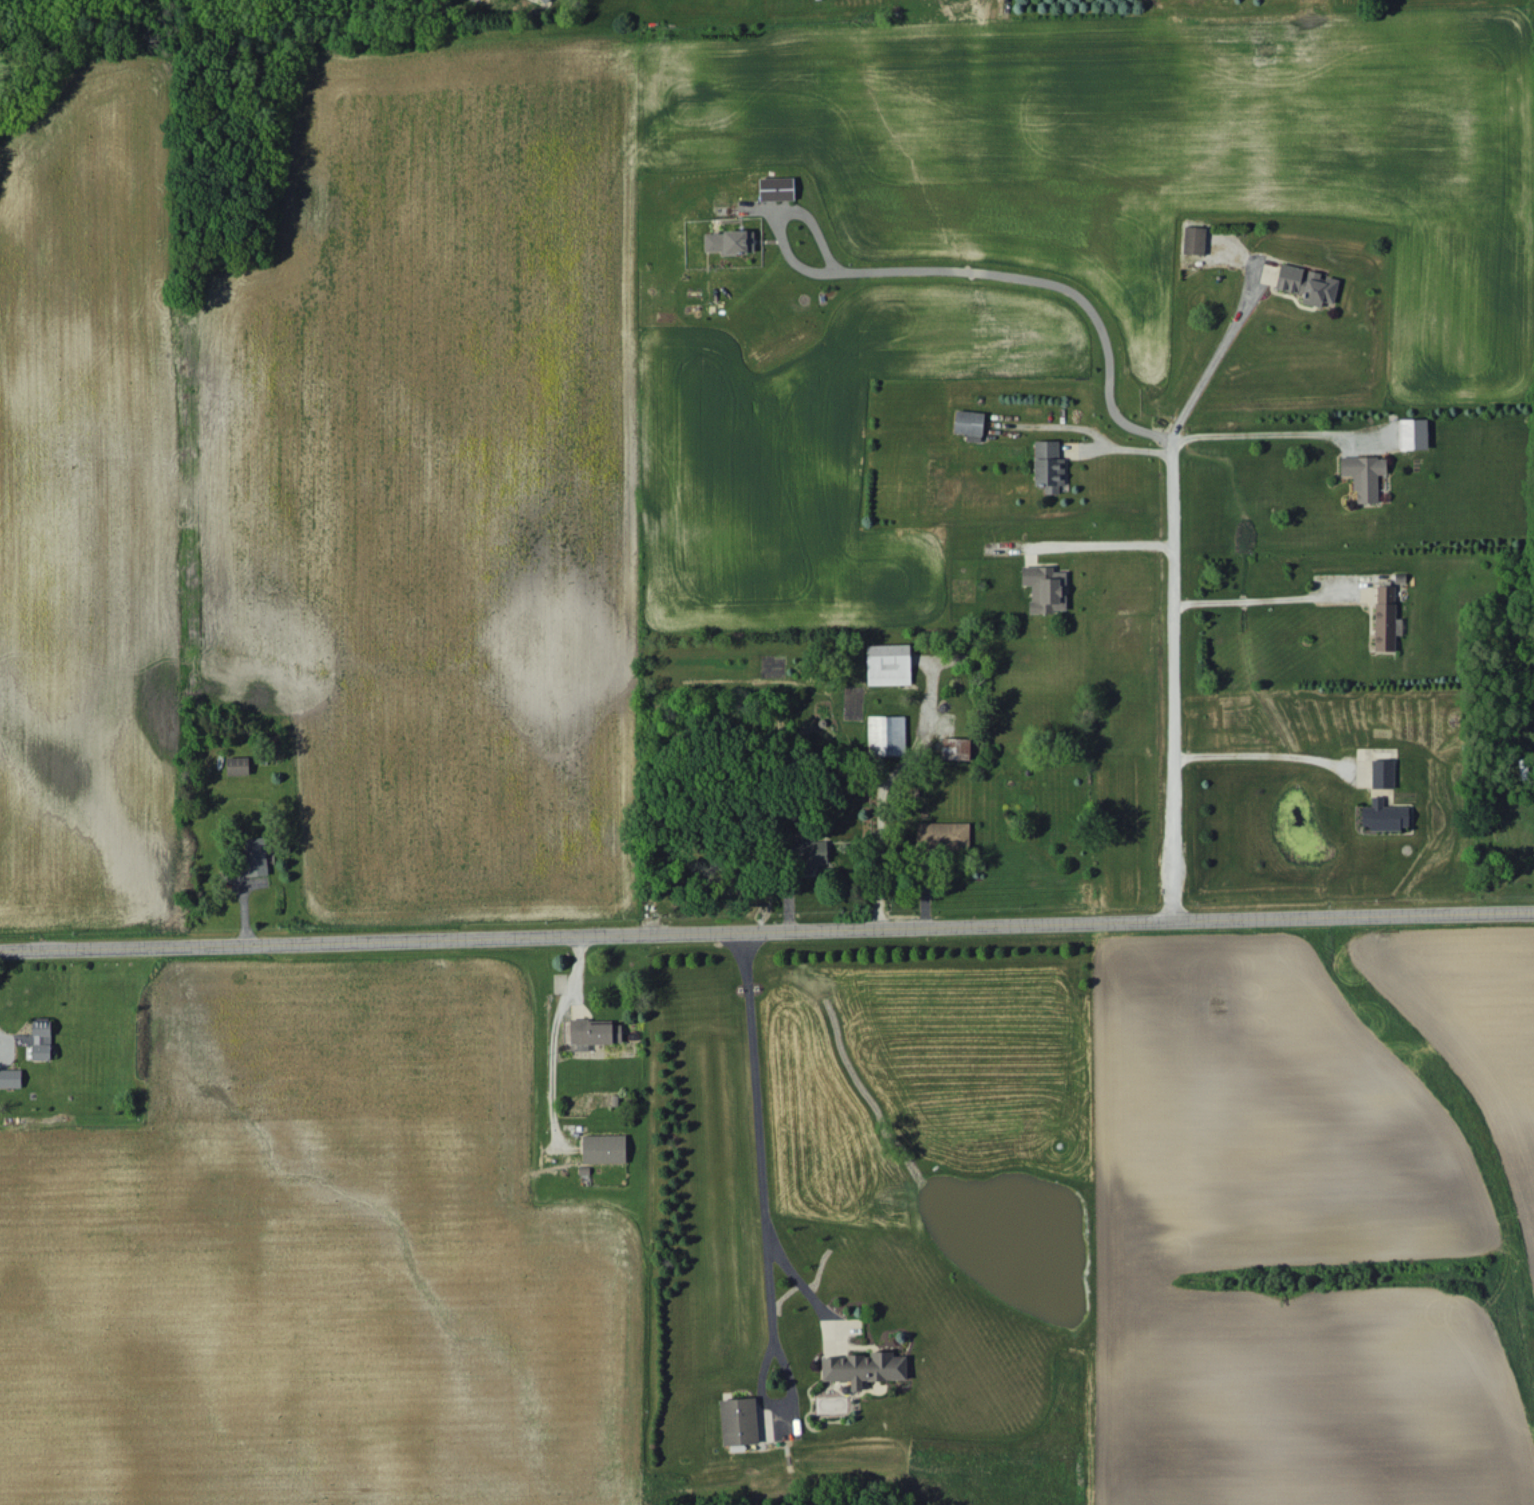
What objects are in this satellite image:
building: (544, 1)
building: (776, 188)
building: (1193, 240)
building: (729, 241)
road: (1034, 280)
building: (1306, 284)
road: (1206, 372)
building: (969, 424)
building: (1412, 433)
road: (1251, 434)
road: (1122, 449)
building: (1048, 465)
building: (1363, 475)
road: (1108, 544)
building: (1045, 588)
road: (1255, 600)
building: (1384, 617)
building: (888, 664)
road: (1173, 677)
building: (886, 734)
building: (955, 748)
road: (1253, 756)
building: (237, 765)
building: (1382, 773)
building: (1384, 815)
road: (876, 819)
building: (943, 834)
building: (810, 854)
building: (255, 856)
road: (766, 929)
building: (593, 1031)
building: (41, 1039)
building: (10, 1077)
road: (757, 1115)
building: (604, 1148)
building: (864, 1367)
building: (738, 1421)

